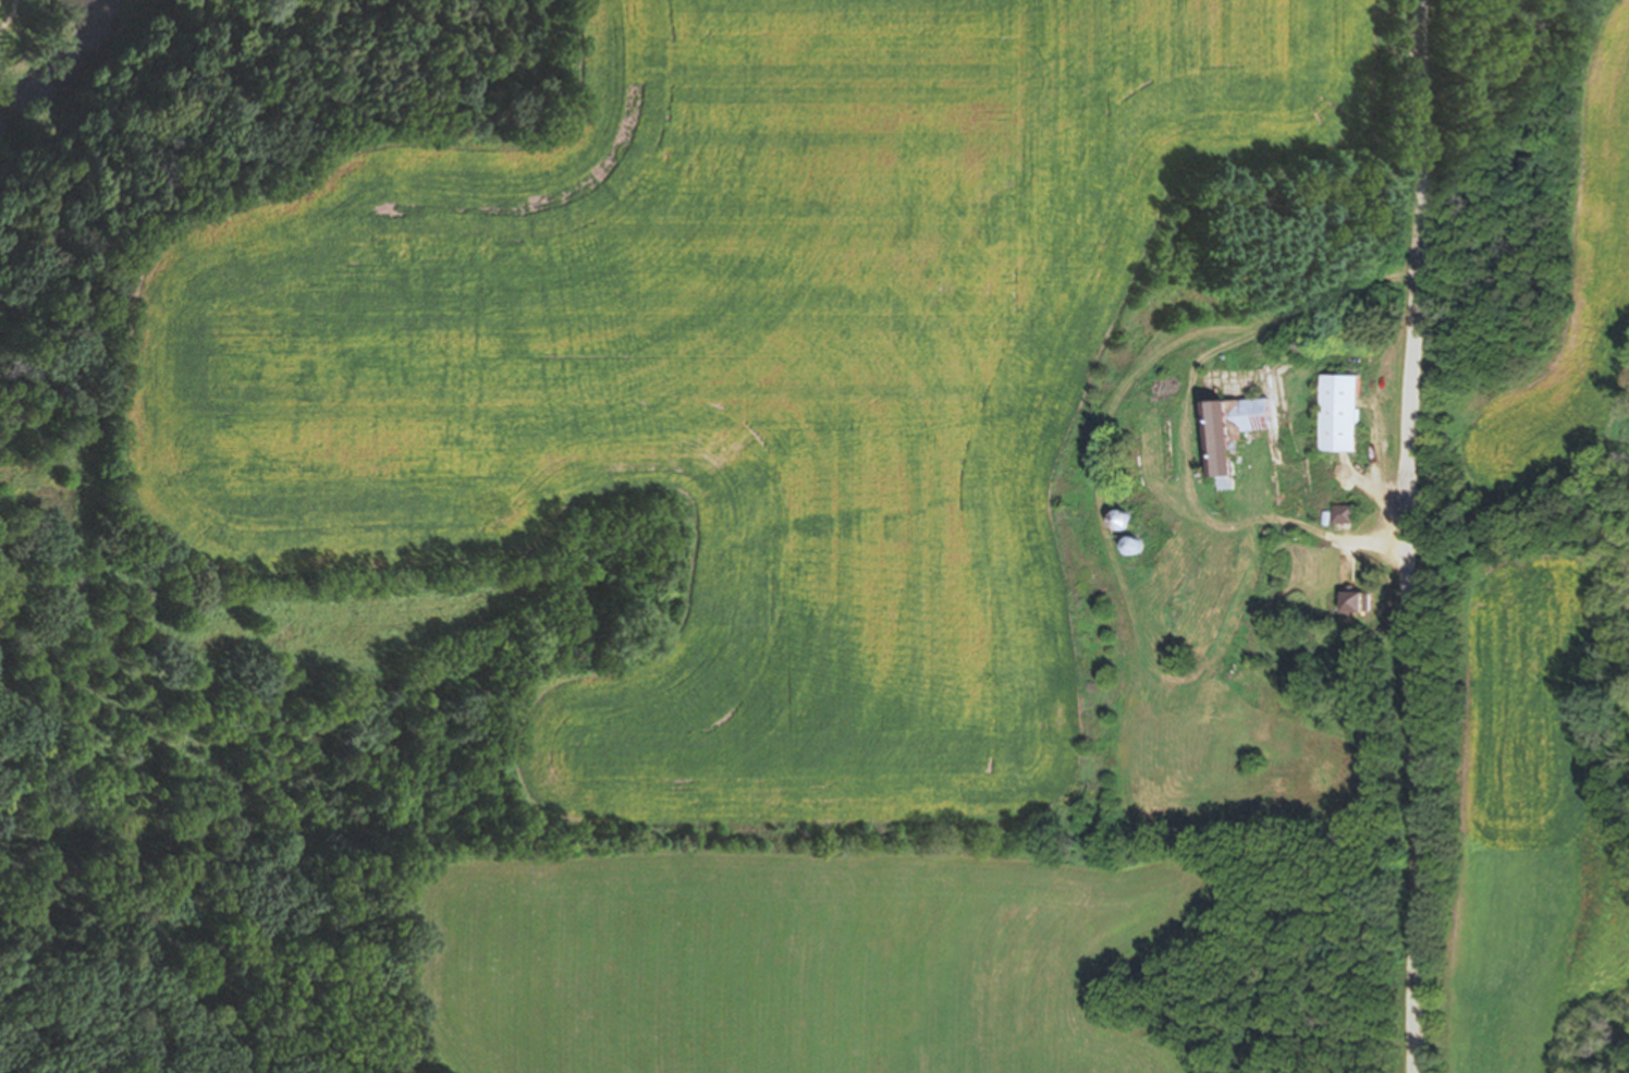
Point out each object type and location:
road: (7, 12)
park: (24, 37)
river: (40, 62)
building: (1336, 413)
building: (1226, 432)
building: (1154, 450)
building: (1278, 479)
building: (1342, 514)
building: (1116, 521)
road: (1410, 536)
building: (1127, 547)
building: (1247, 549)
building: (1197, 571)
building: (1354, 603)

